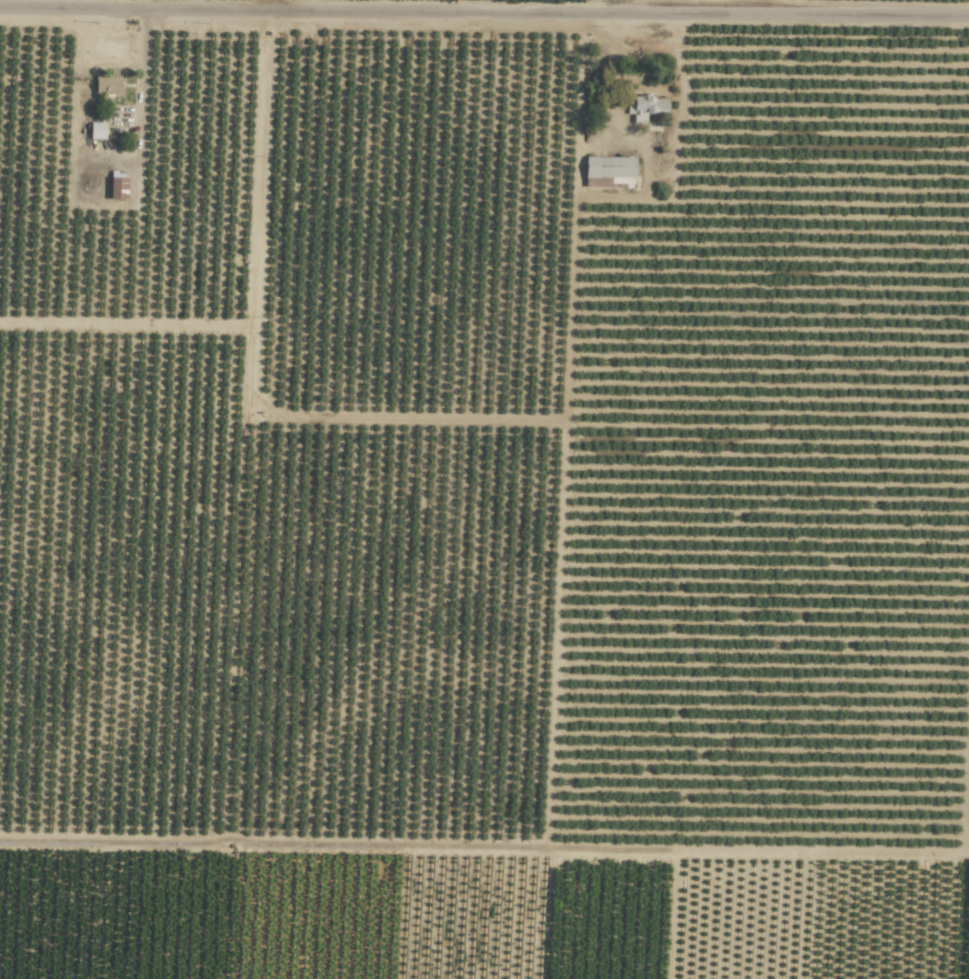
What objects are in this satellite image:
road: (274, 9)
road: (580, 12)
road: (484, 22)
building: (107, 85)
road: (140, 106)
building: (645, 107)
building: (609, 171)

